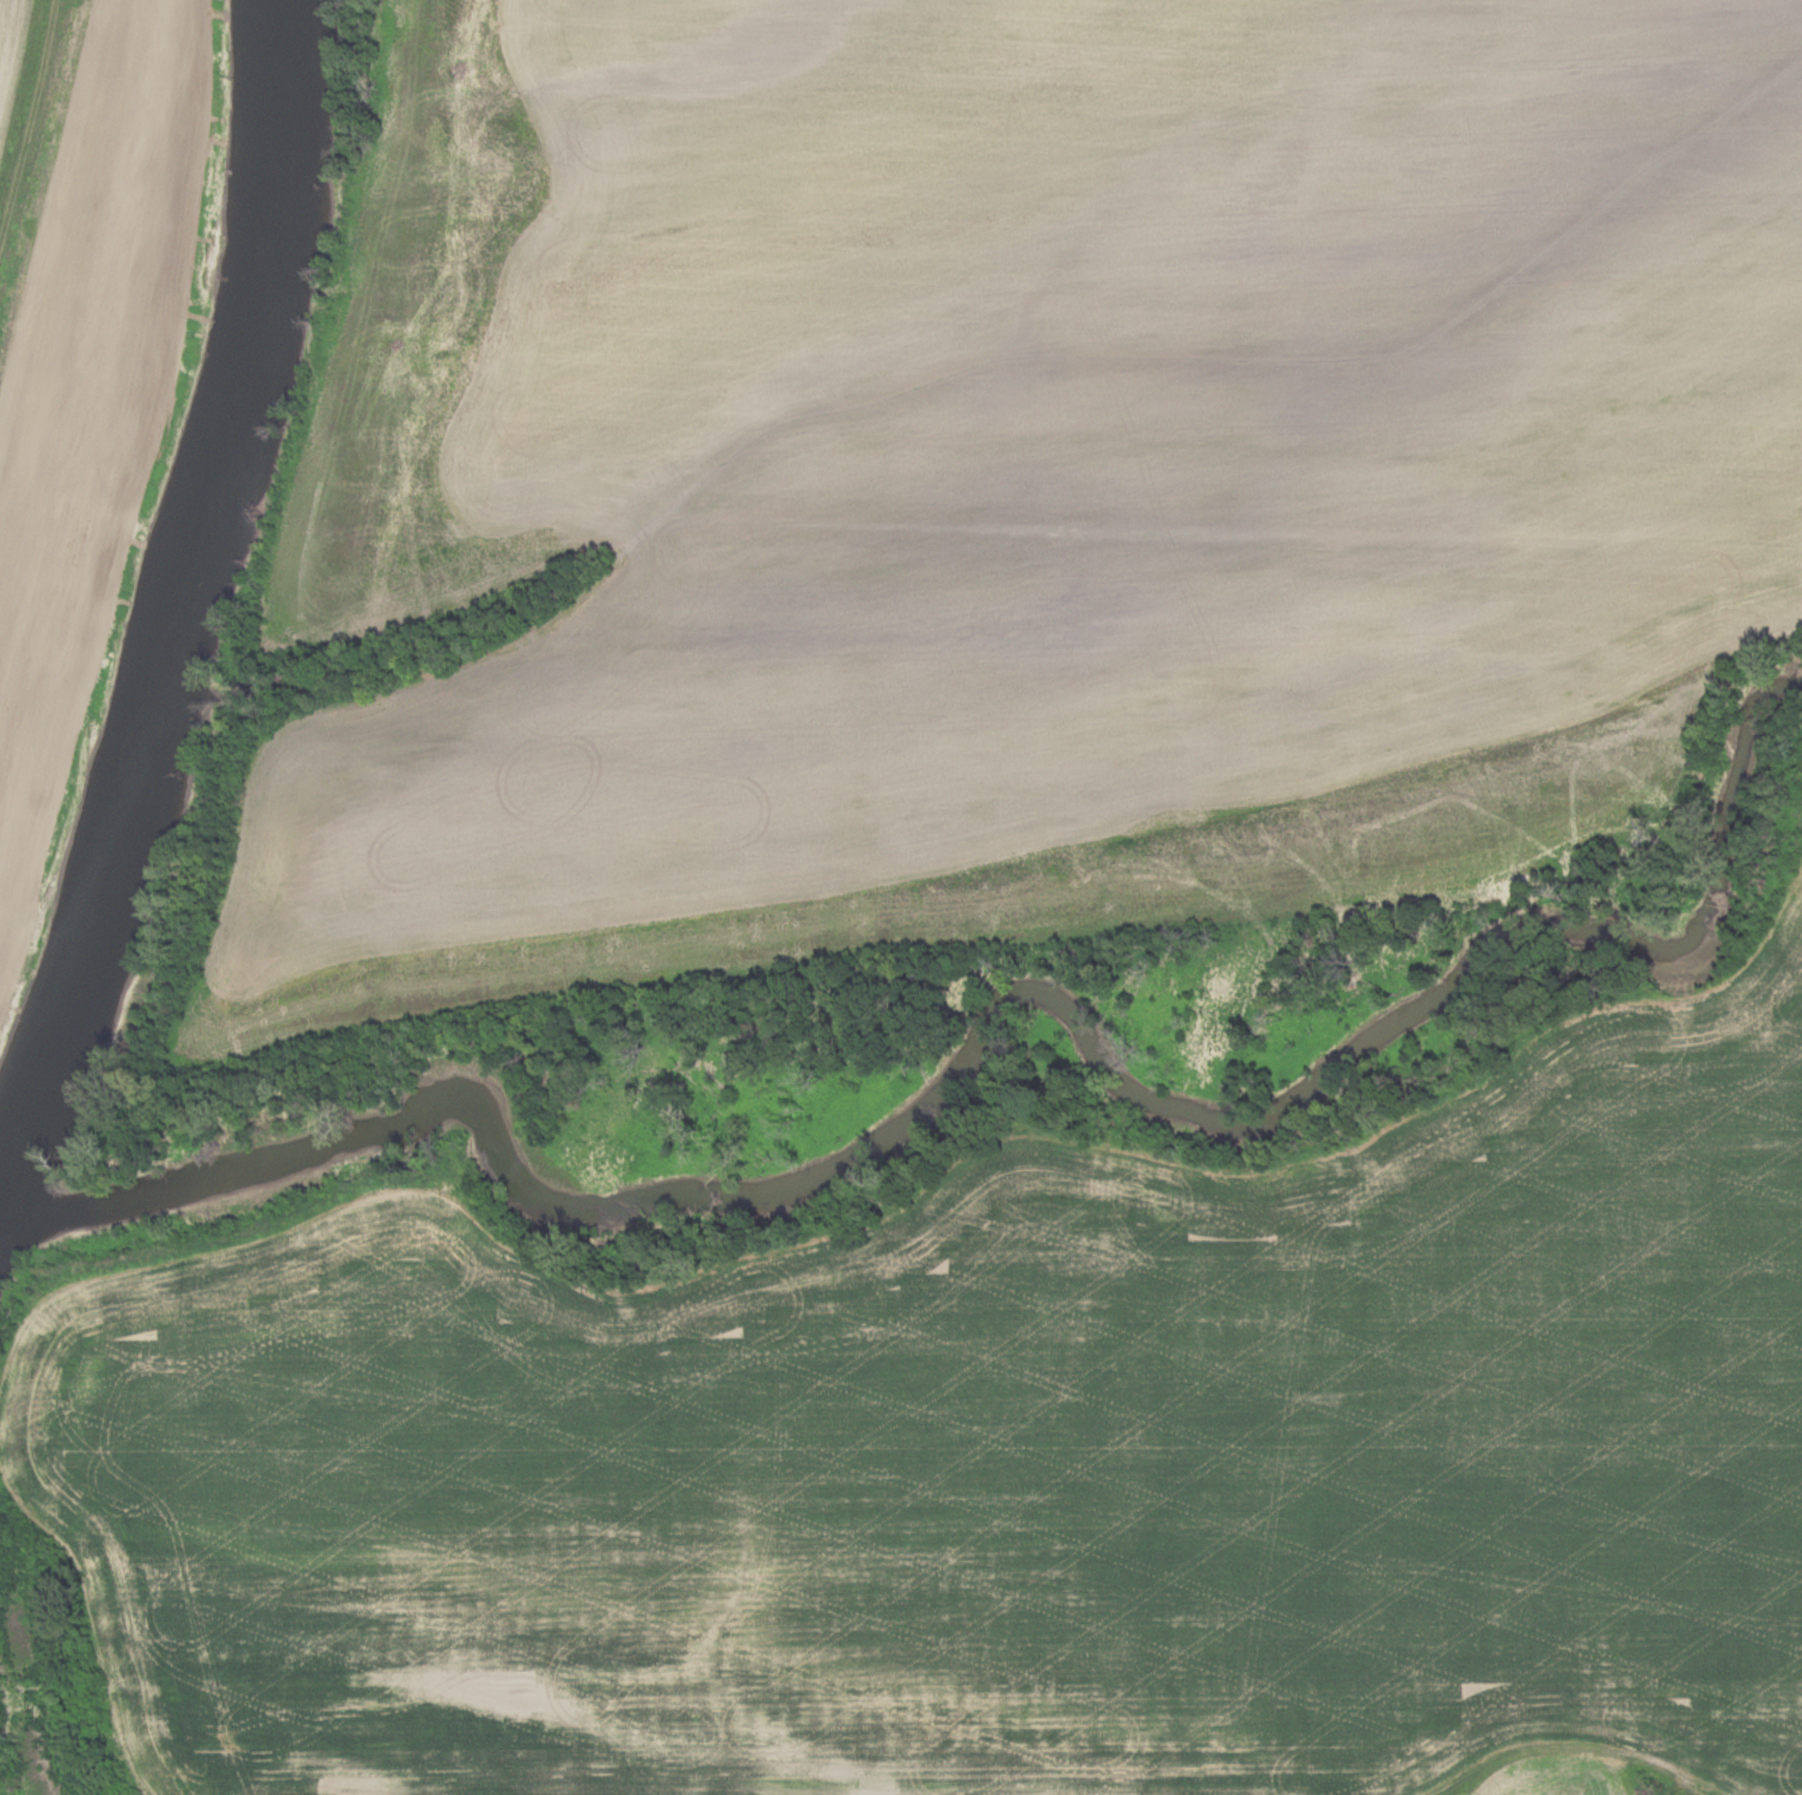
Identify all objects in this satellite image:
river: (183, 593)
river: (957, 1079)

